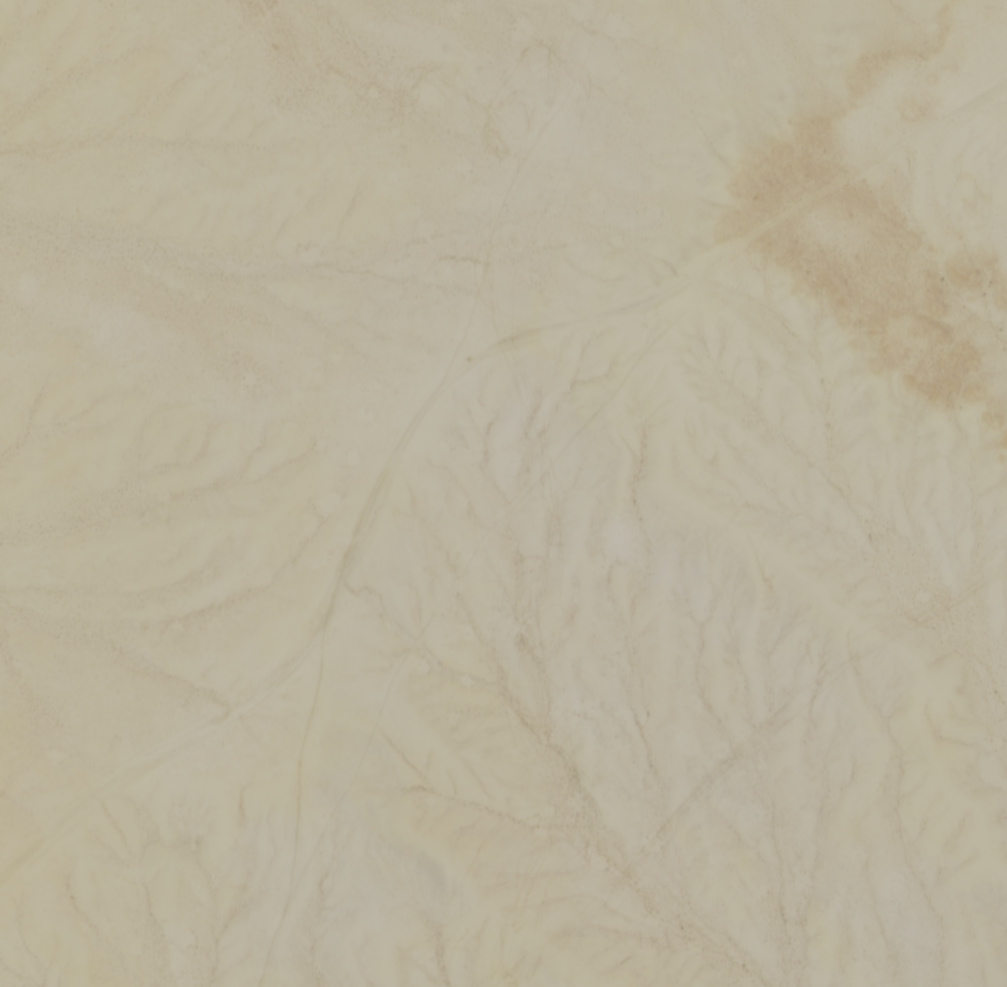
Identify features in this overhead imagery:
road: (550, 386)

